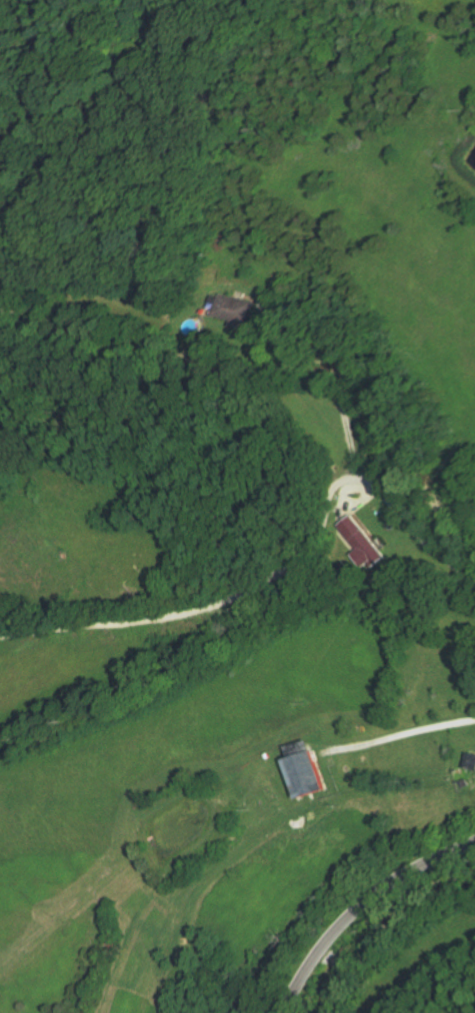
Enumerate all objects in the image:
building: (160, 281)
building: (33, 287)
building: (225, 309)
building: (277, 312)
road: (250, 322)
road: (335, 365)
road: (328, 485)
road: (344, 488)
road: (356, 502)
road: (413, 530)
building: (360, 542)
road: (195, 611)
road: (401, 735)
building: (273, 756)
building: (473, 761)
building: (309, 770)
building: (469, 784)
road: (358, 904)

